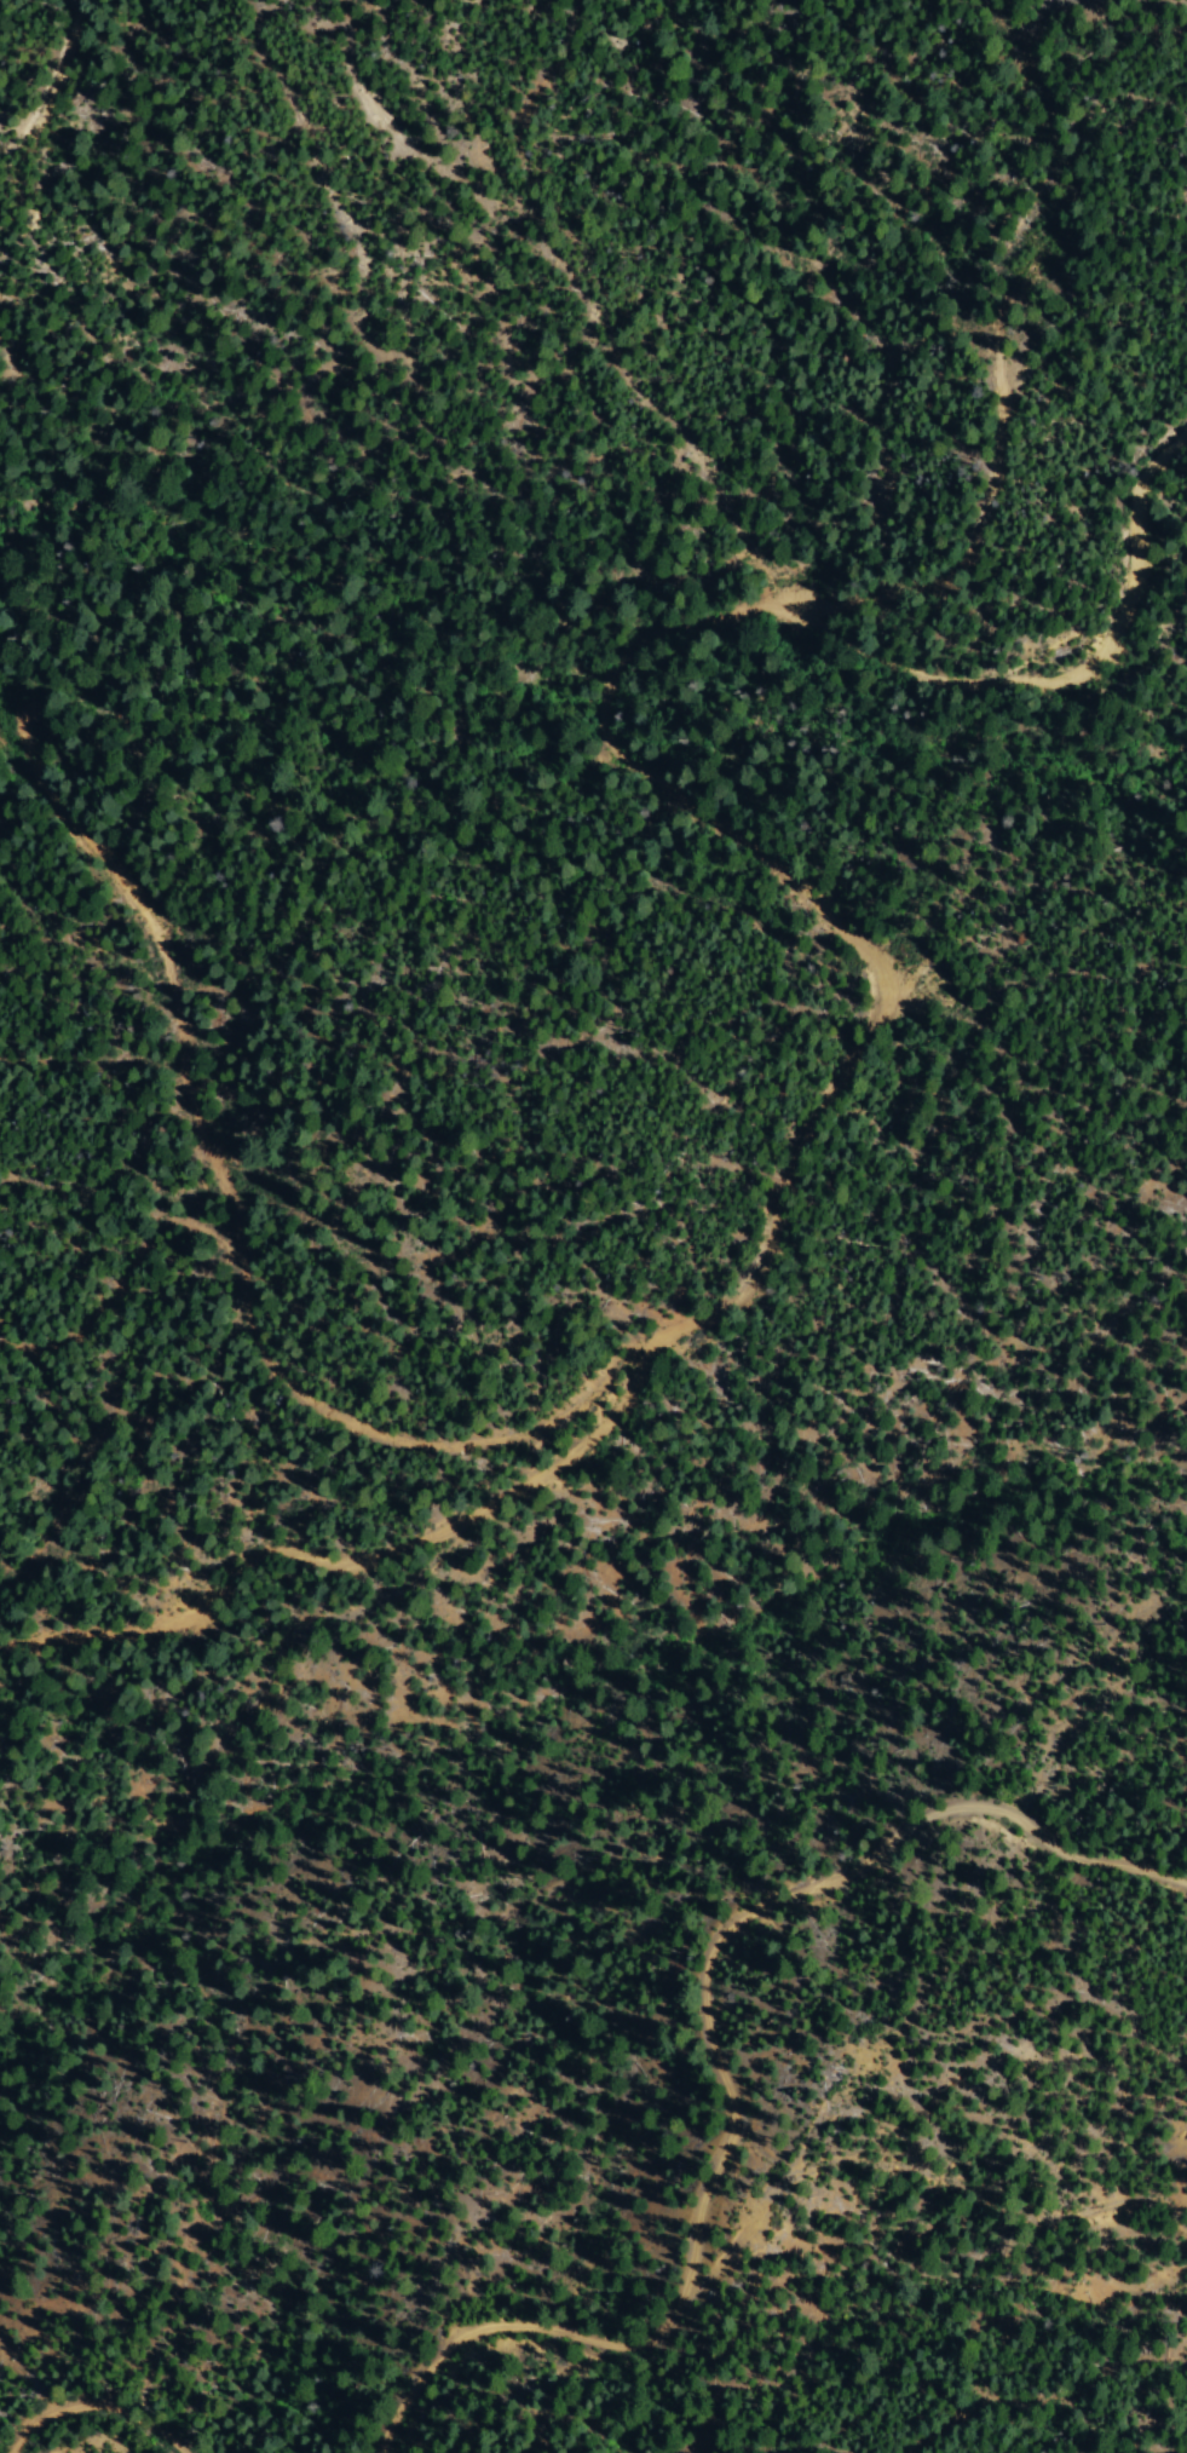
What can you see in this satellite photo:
road: (788, 1040)
road: (727, 2043)

